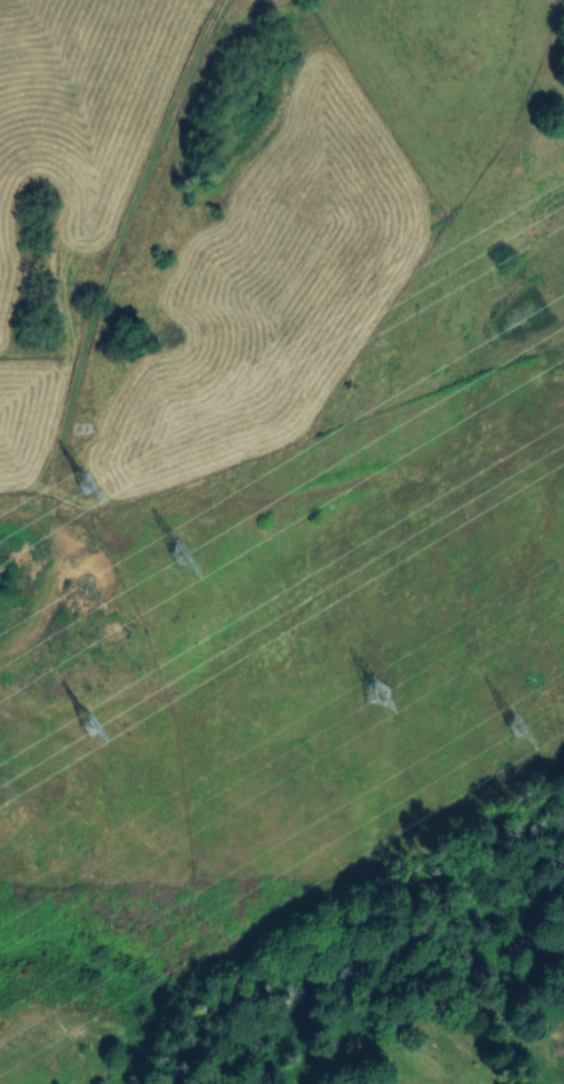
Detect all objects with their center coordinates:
power tower: (81, 481)
power tower: (174, 552)
power tower: (373, 690)
power tower: (85, 727)
power tower: (518, 732)

